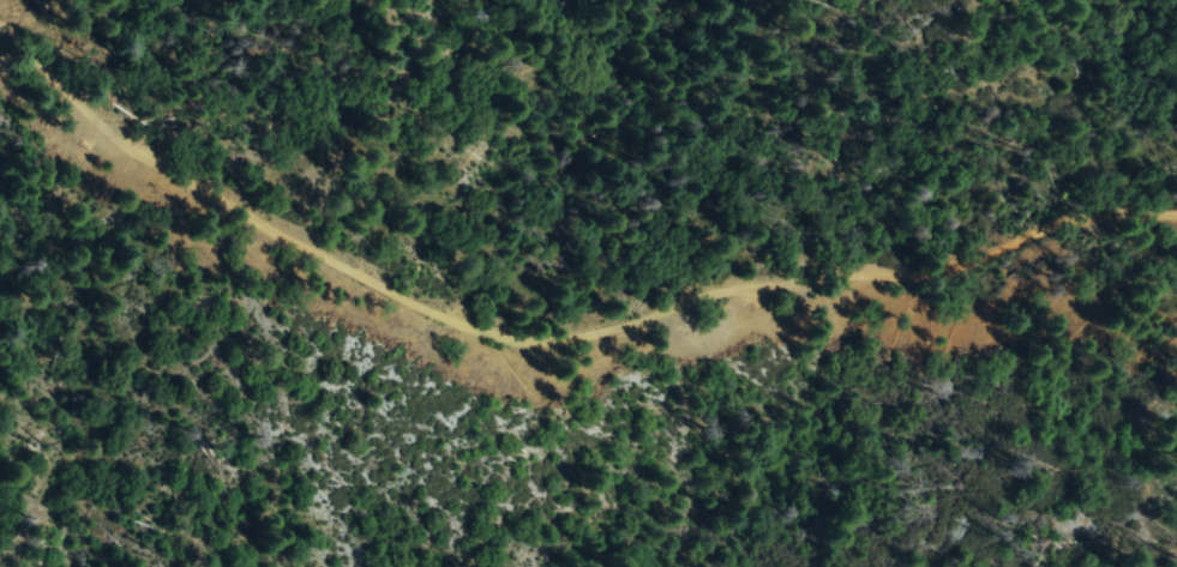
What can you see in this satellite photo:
road: (1080, 217)
road: (454, 337)

